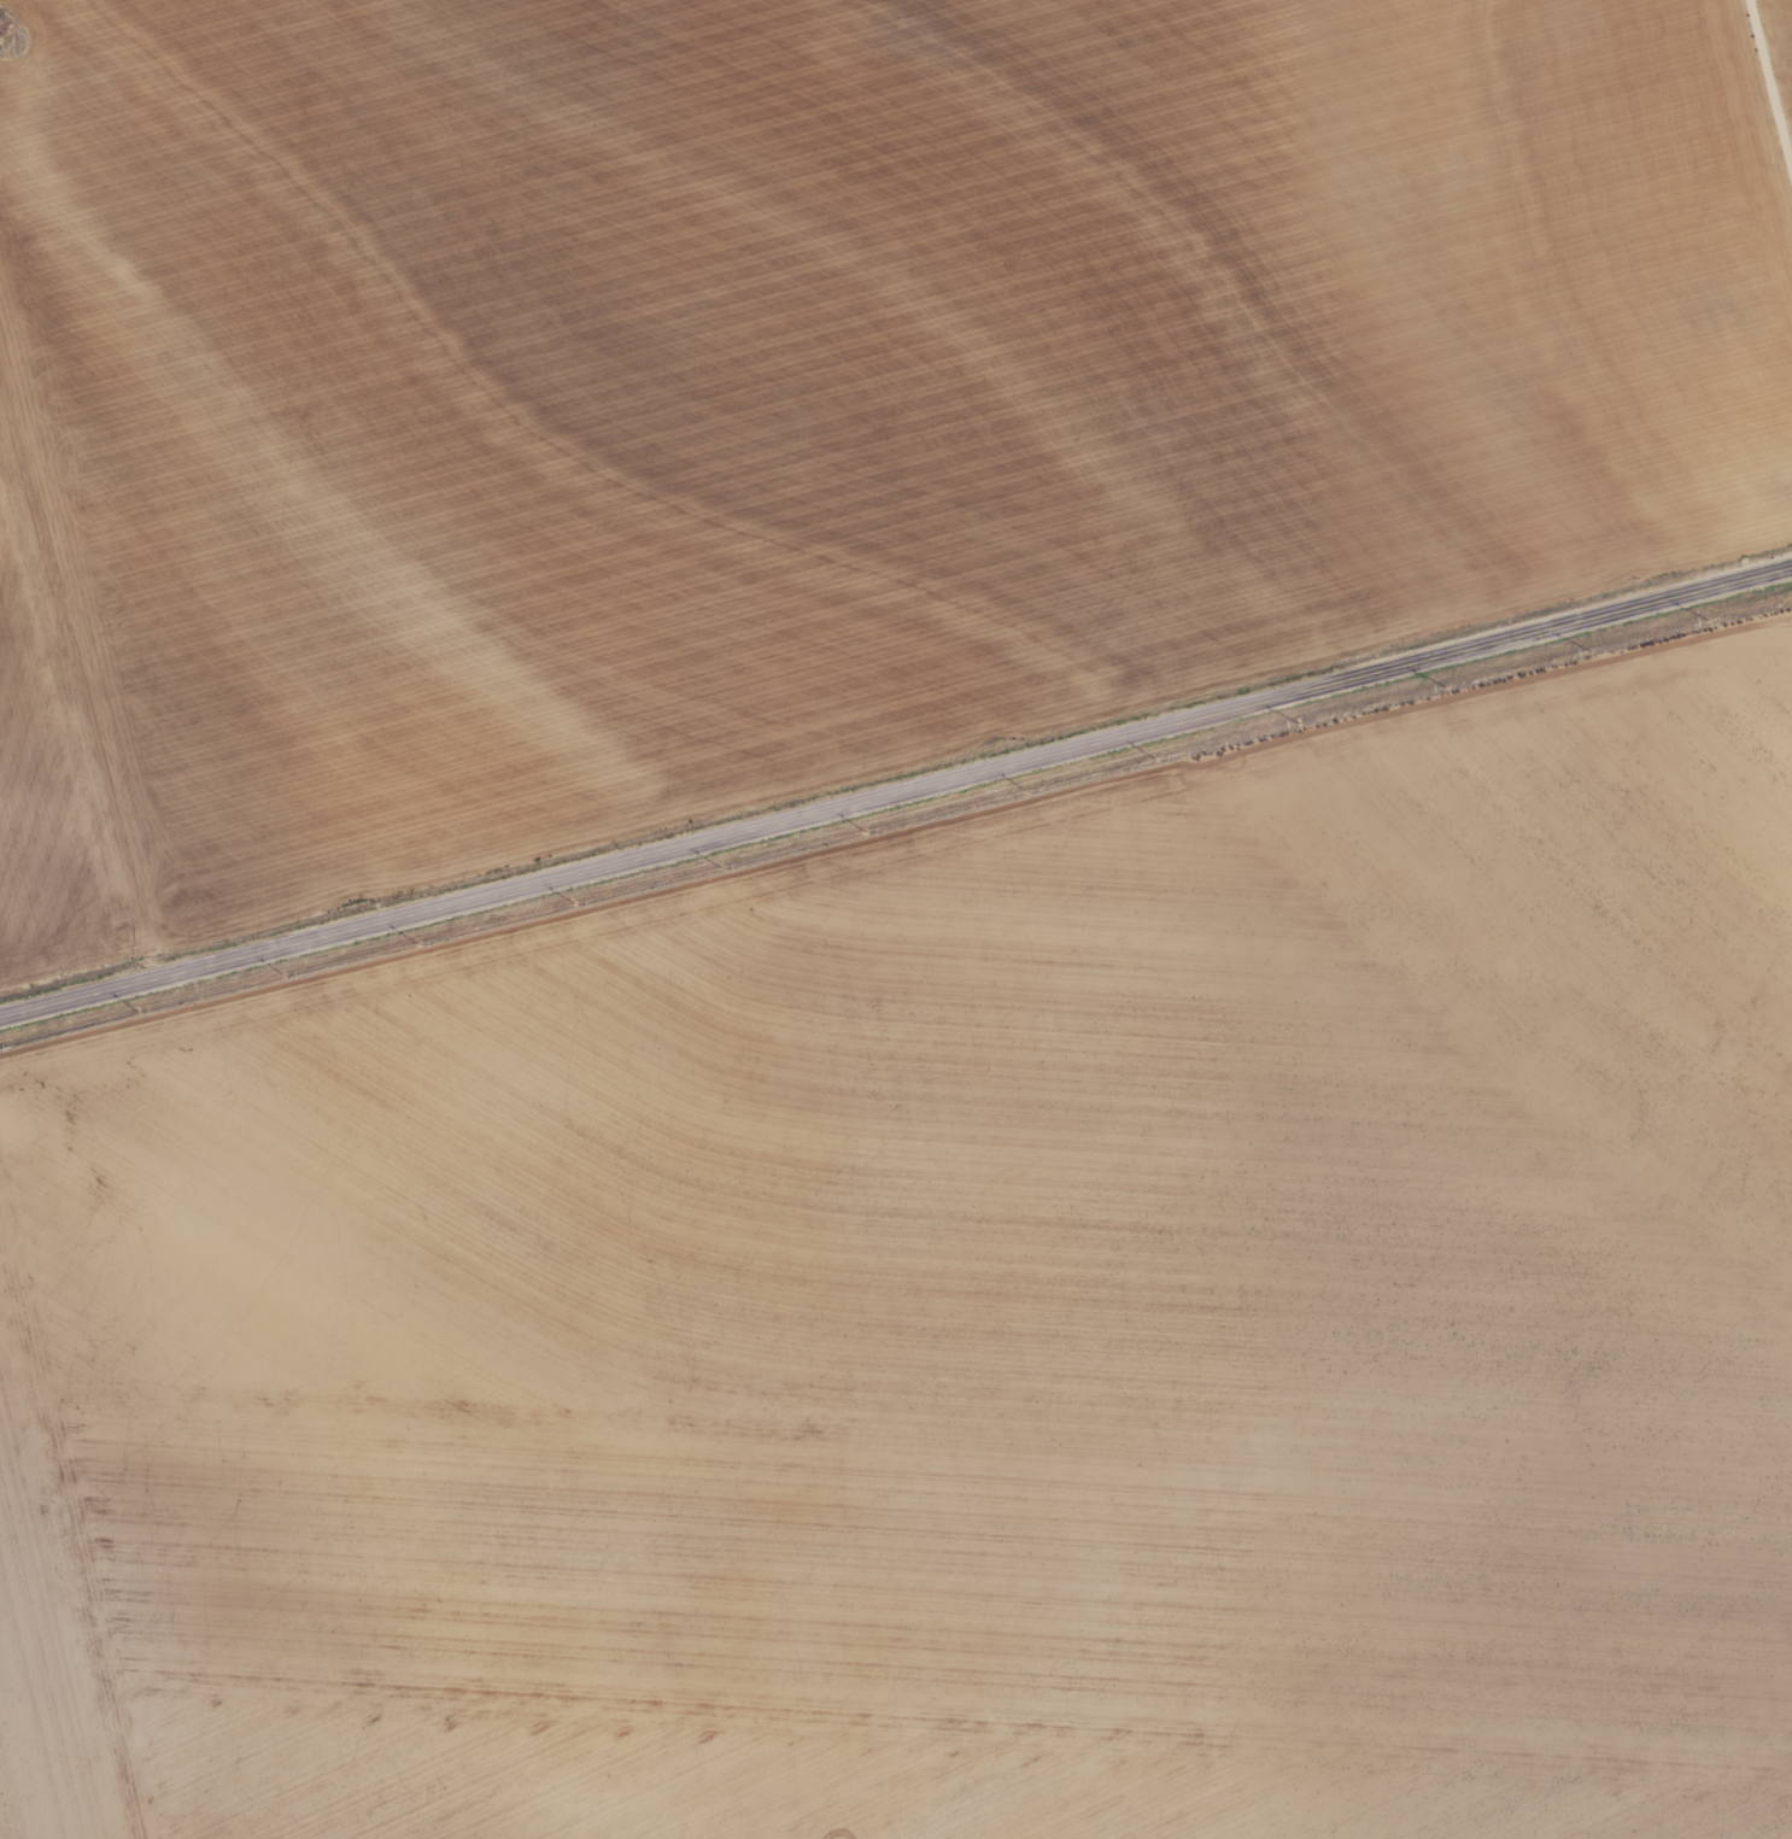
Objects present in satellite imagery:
road: (896, 790)

